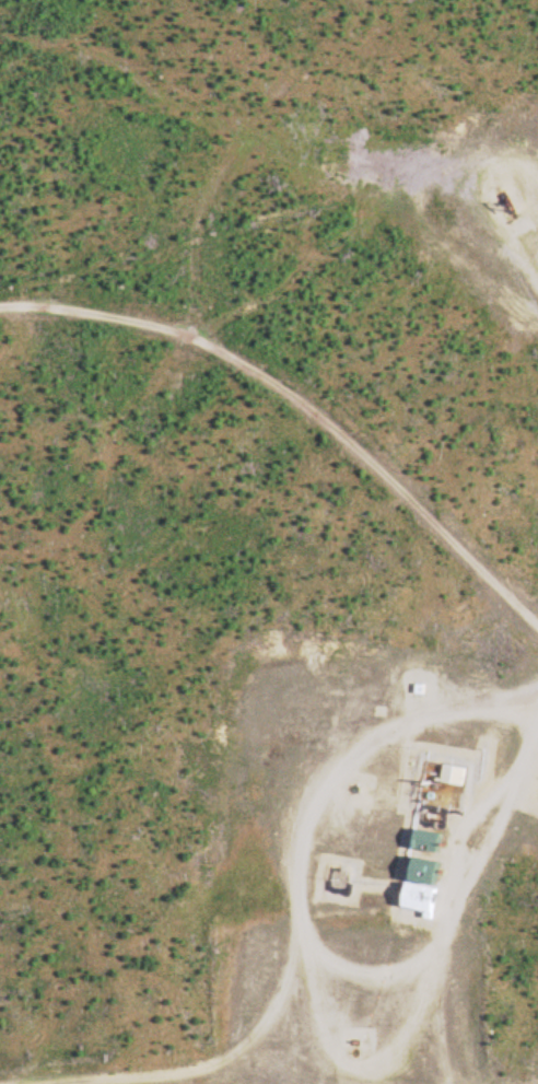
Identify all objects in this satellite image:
petroleum well: (504, 198)
road: (534, 260)
road: (301, 401)
building: (449, 774)
building: (422, 840)
building: (420, 872)
road: (303, 879)

